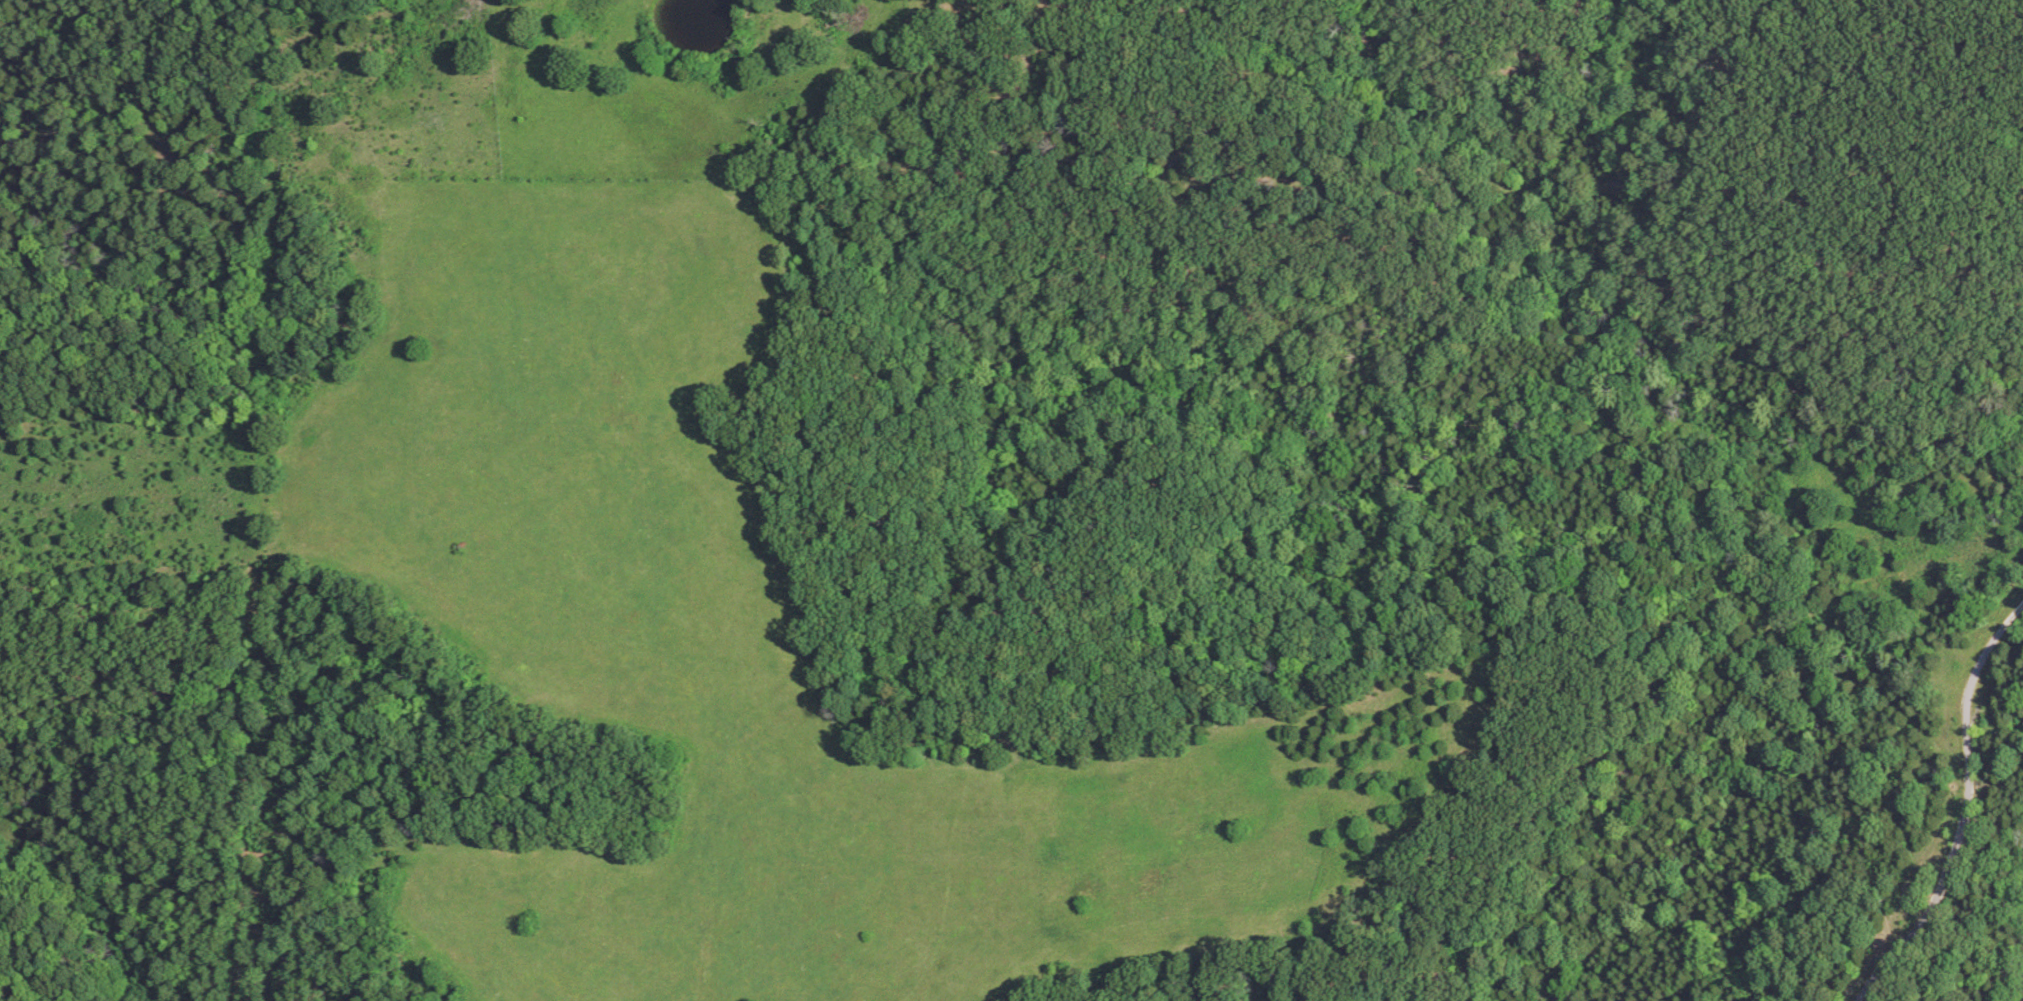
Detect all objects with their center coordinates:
road: (1969, 813)

